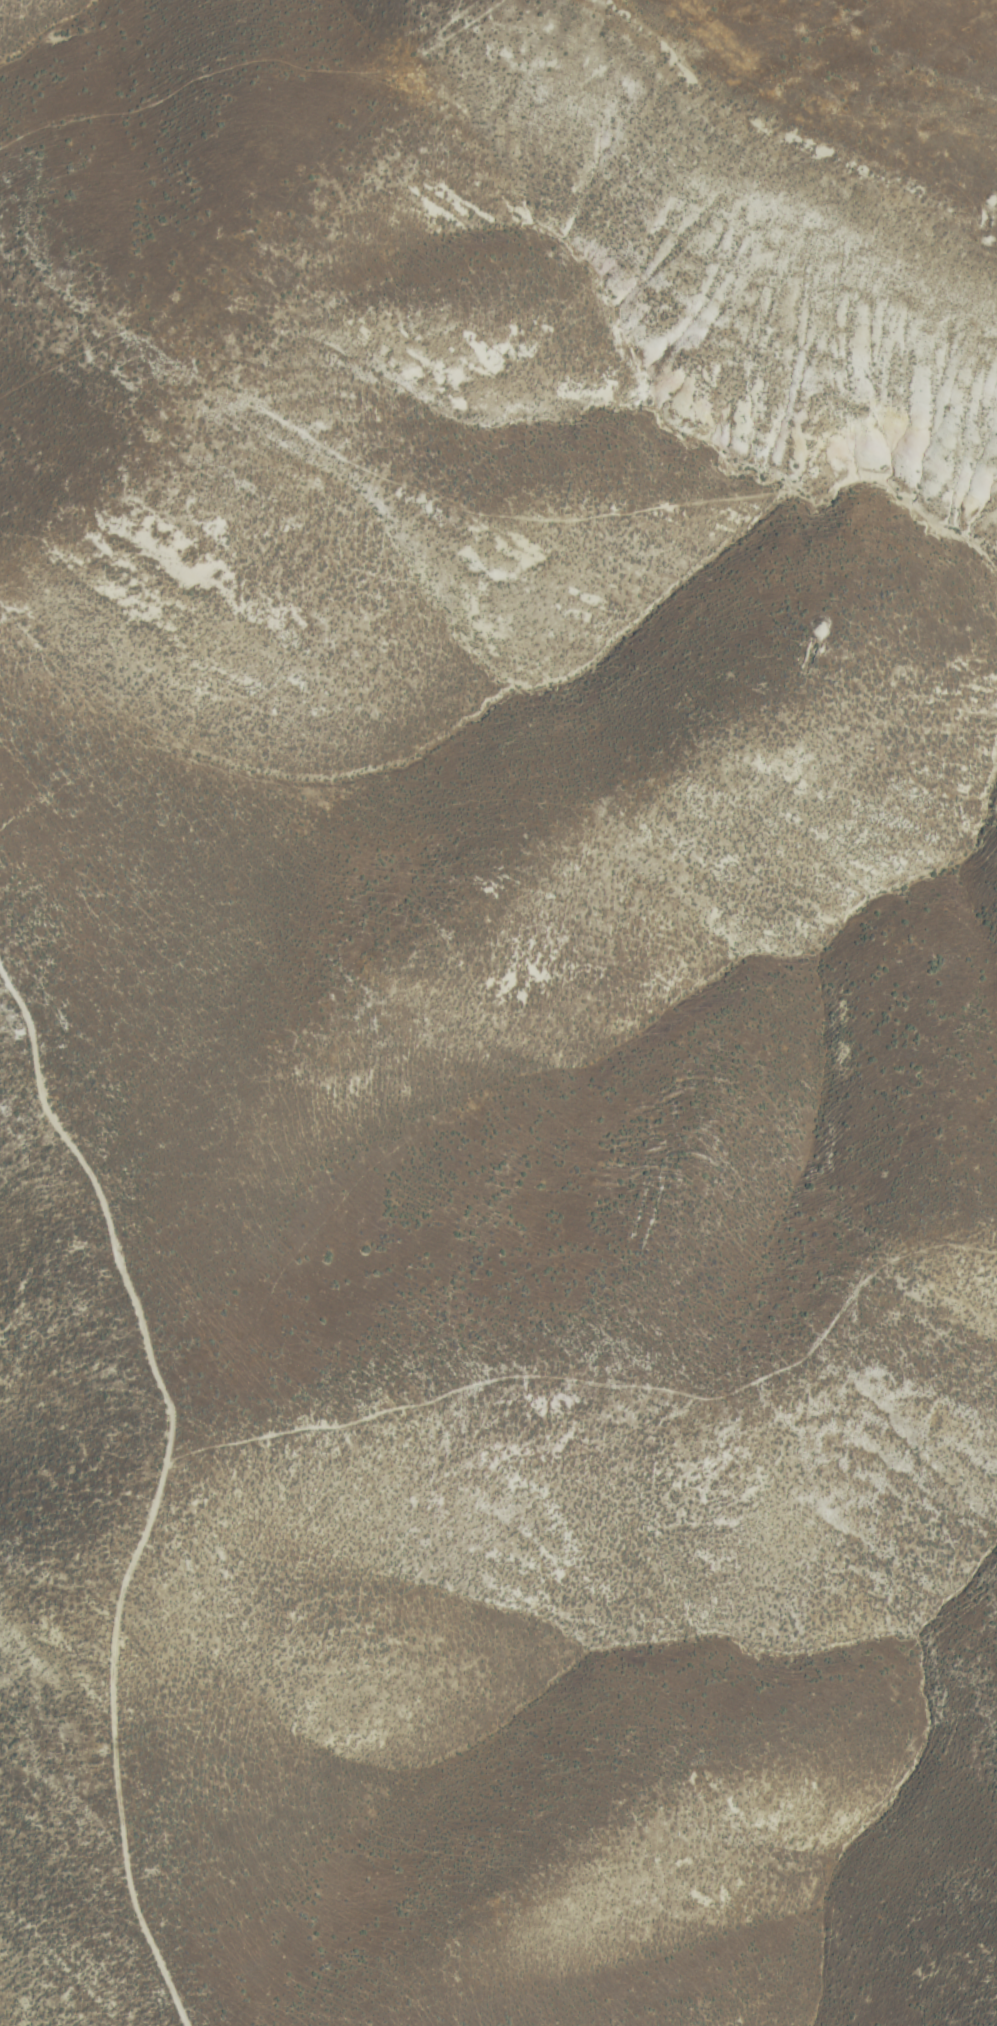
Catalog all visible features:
road: (159, 1490)

